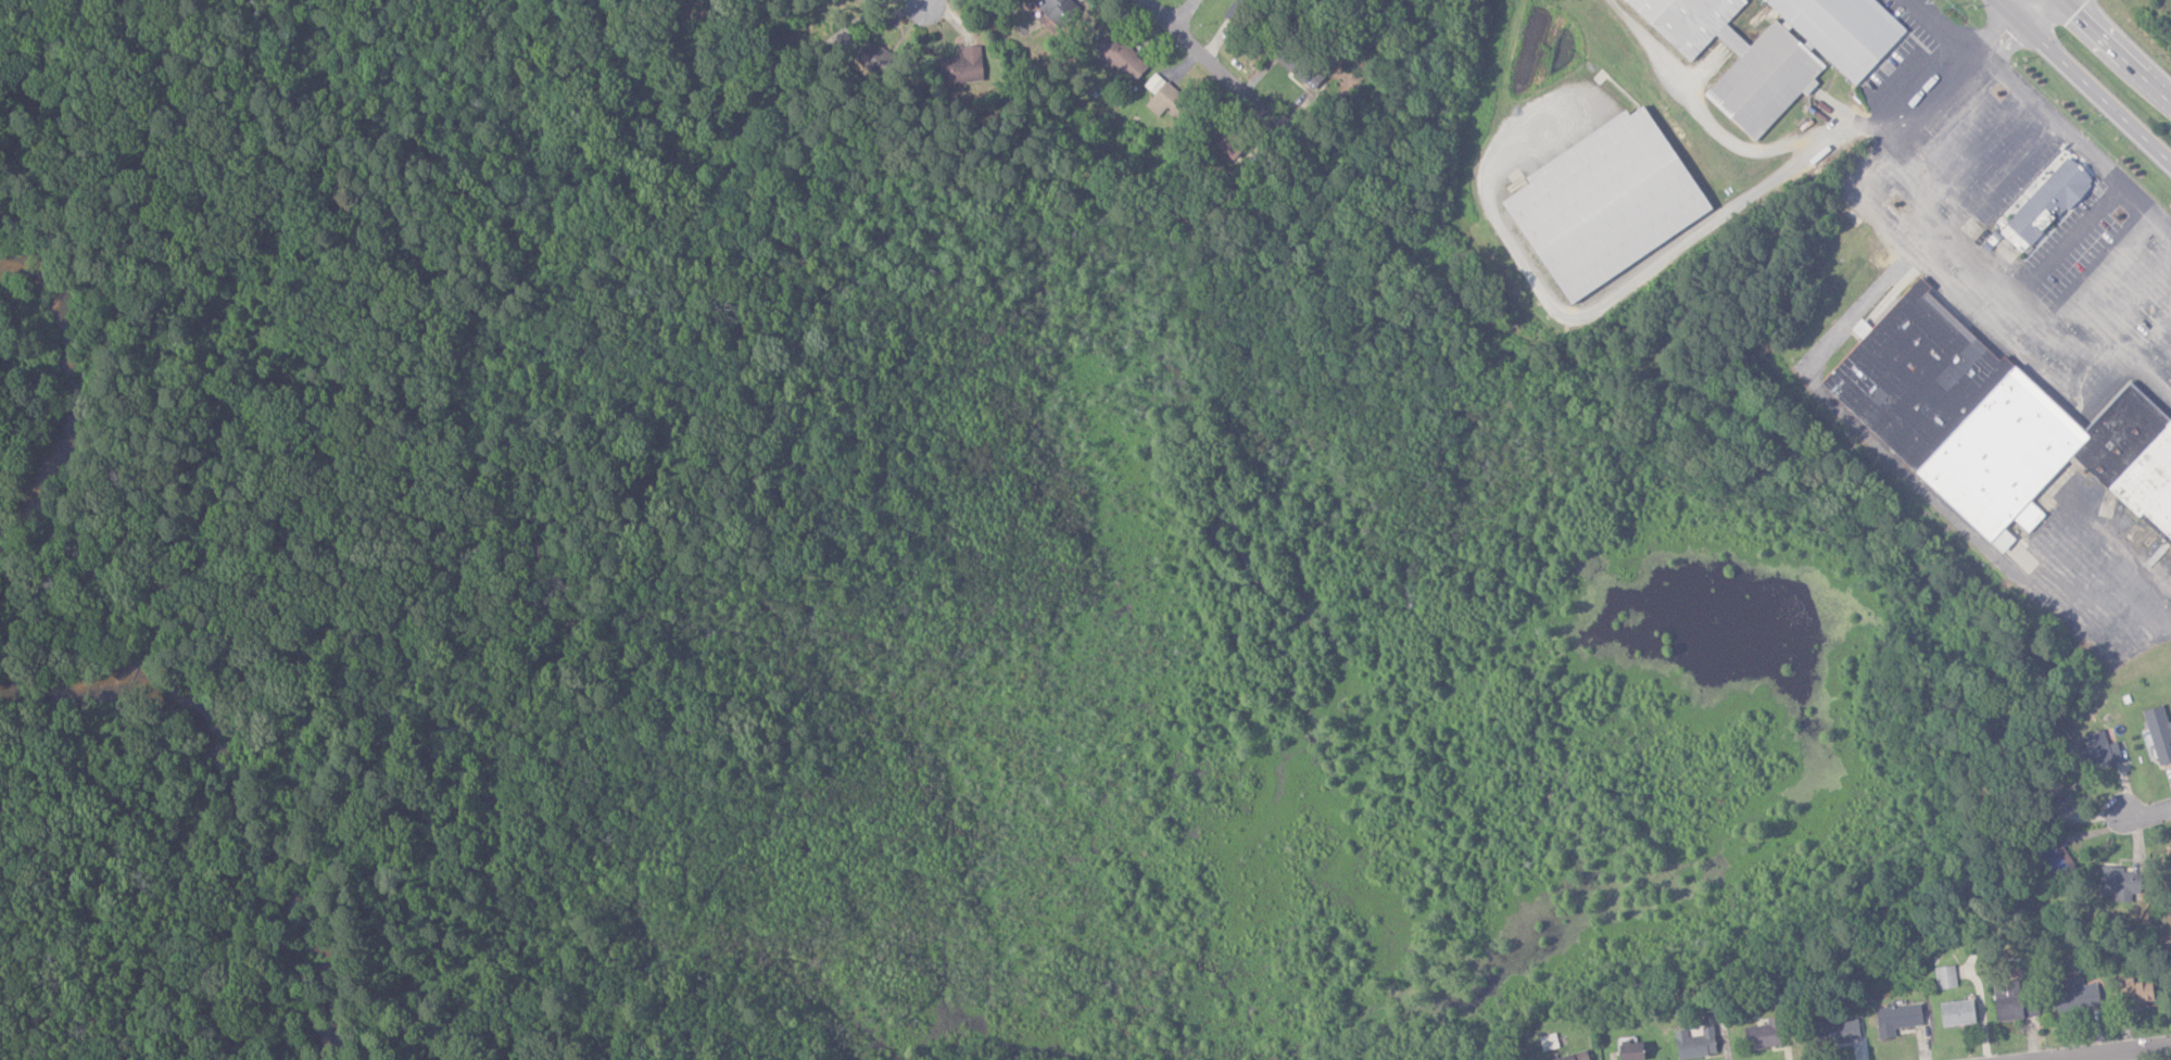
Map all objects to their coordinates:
building: (861, 0)
road: (2030, 8)
building: (1053, 10)
road: (1183, 12)
traffic signals: (2023, 15)
building: (1845, 31)
road: (2003, 34)
road: (889, 37)
road: (2119, 48)
building: (867, 55)
building: (1118, 58)
building: (1734, 59)
building: (962, 65)
road: (1219, 71)
road: (2088, 76)
building: (1159, 93)
road: (2047, 115)
building: (1224, 142)
road: (1743, 146)
road: (1991, 182)
building: (1600, 205)
building: (2039, 206)
road: (2054, 242)
road: (1947, 262)
road: (1581, 311)
building: (1943, 419)
building: (2028, 515)
building: (2158, 733)
building: (2100, 754)
road: (2144, 817)
building: (2053, 856)
building: (2116, 883)
building: (1945, 976)
building: (2132, 990)
building: (2074, 995)
building: (2010, 1001)
building: (1955, 1012)
building: (1894, 1019)
building: (1835, 1030)
building: (1757, 1036)
building: (1549, 1042)
building: (1693, 1043)
building: (1629, 1051)
road: (2098, 1051)
building: (1574, 1056)

